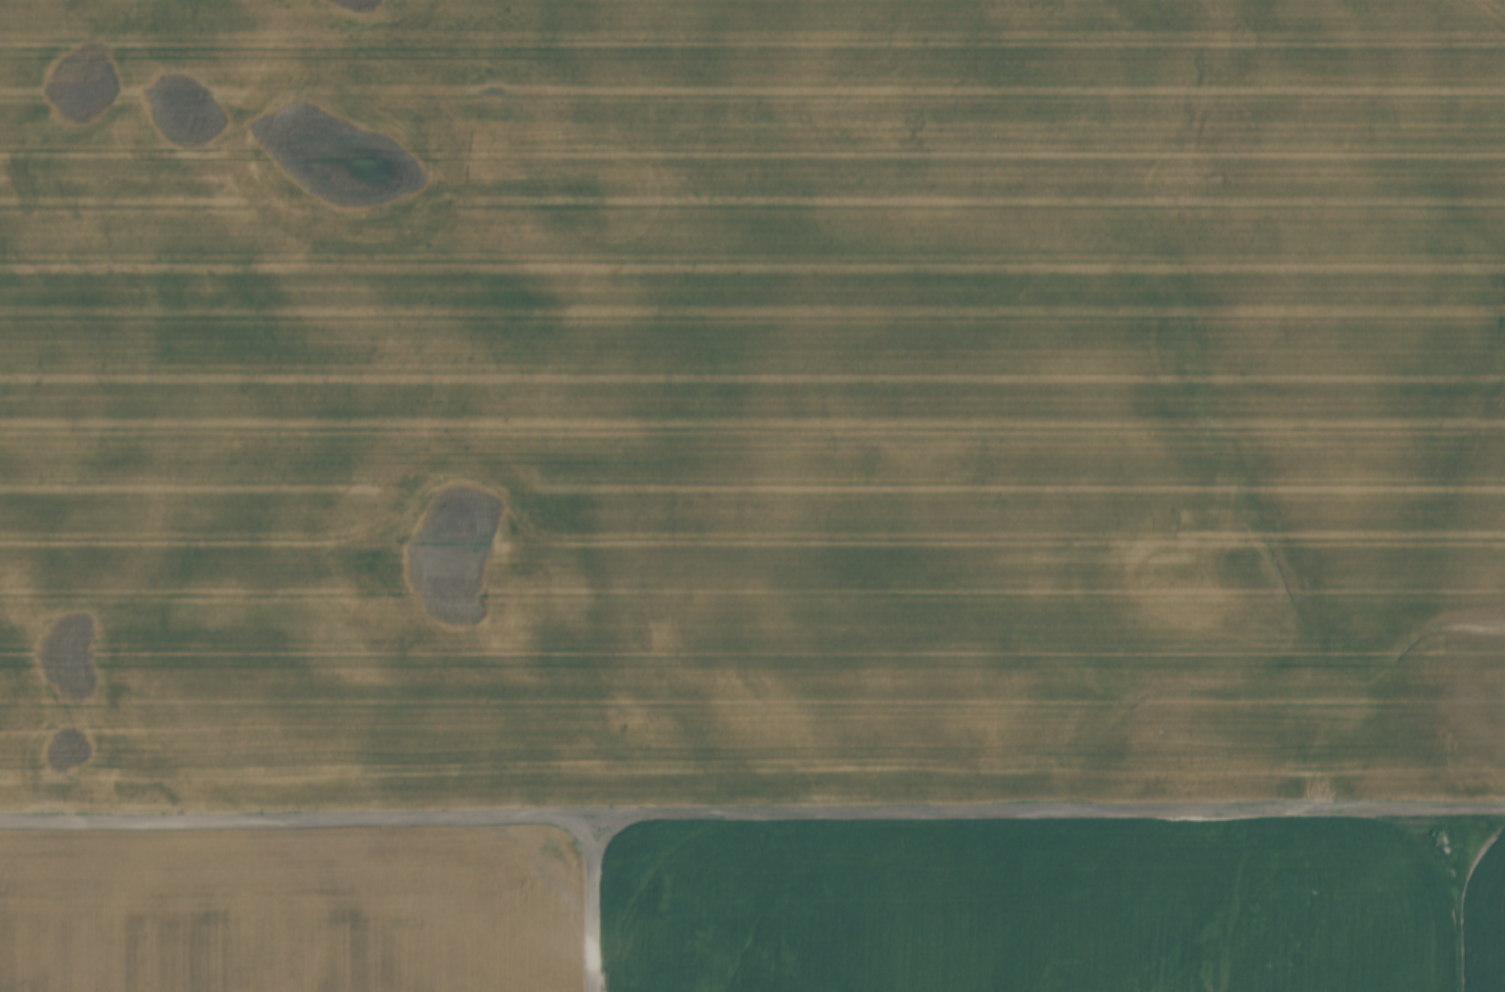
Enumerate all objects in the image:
road: (752, 818)
road: (560, 872)
road: (641, 890)

